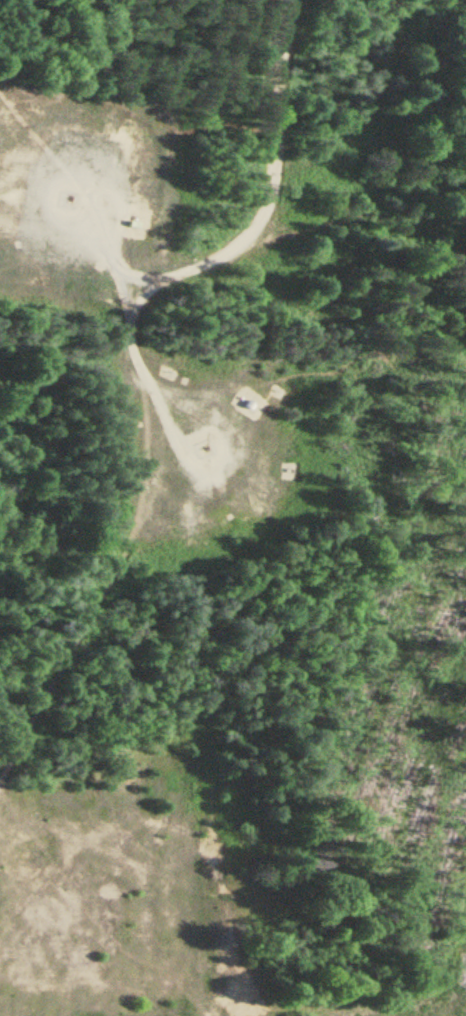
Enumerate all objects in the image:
road: (232, 241)
petroleum well: (198, 460)

